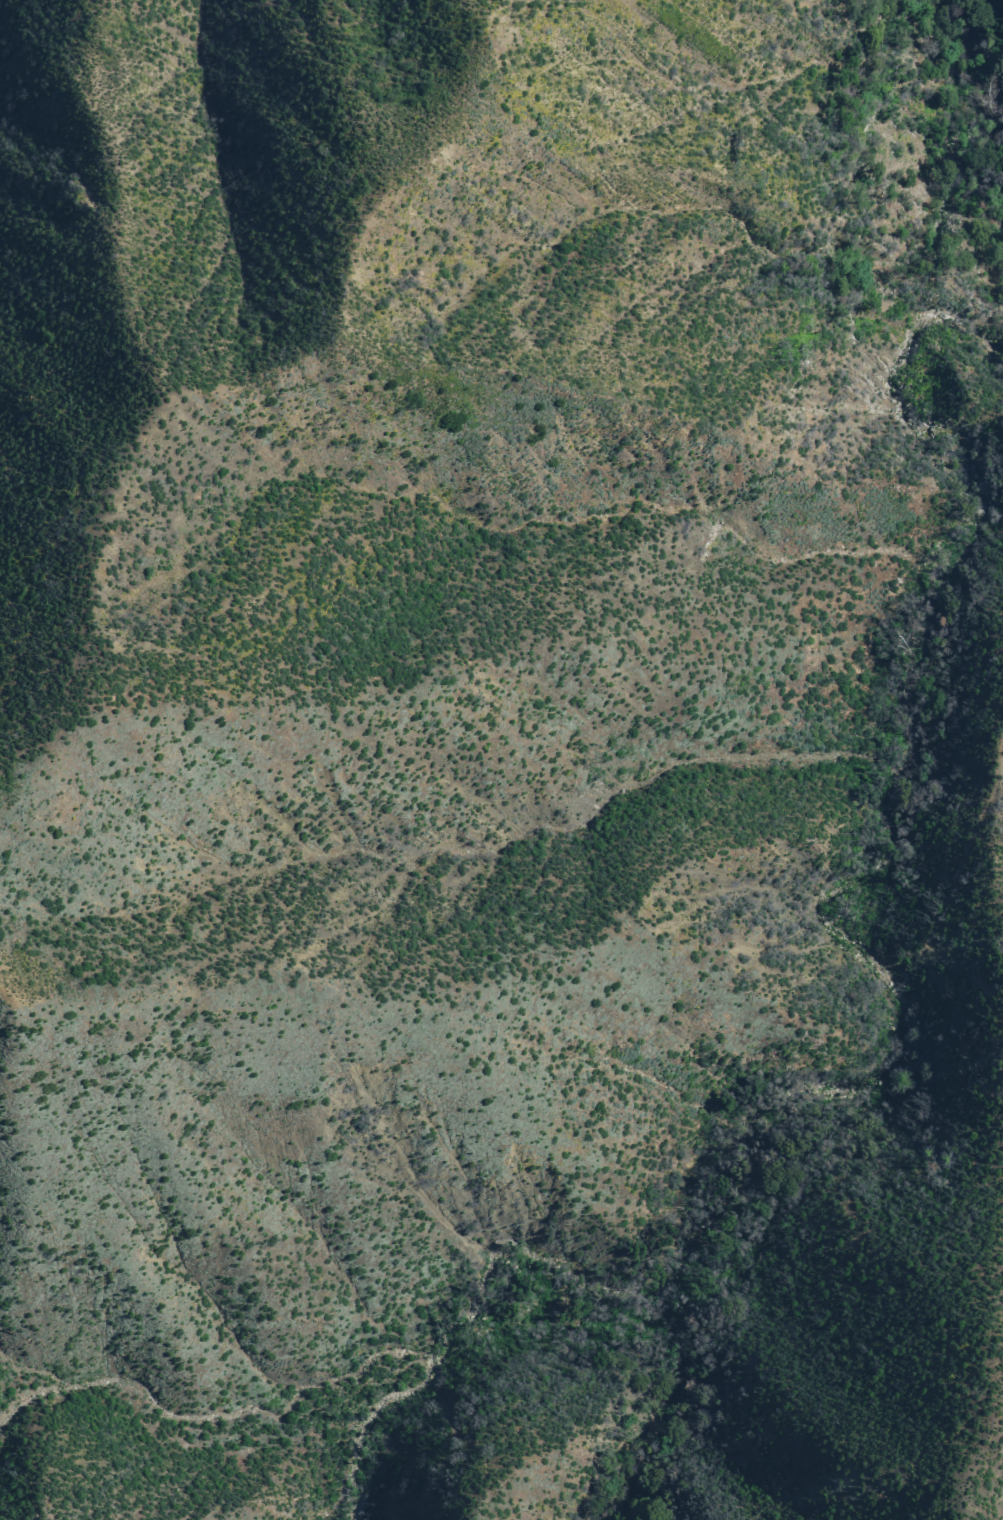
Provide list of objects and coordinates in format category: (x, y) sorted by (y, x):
road: (720, 1221)

